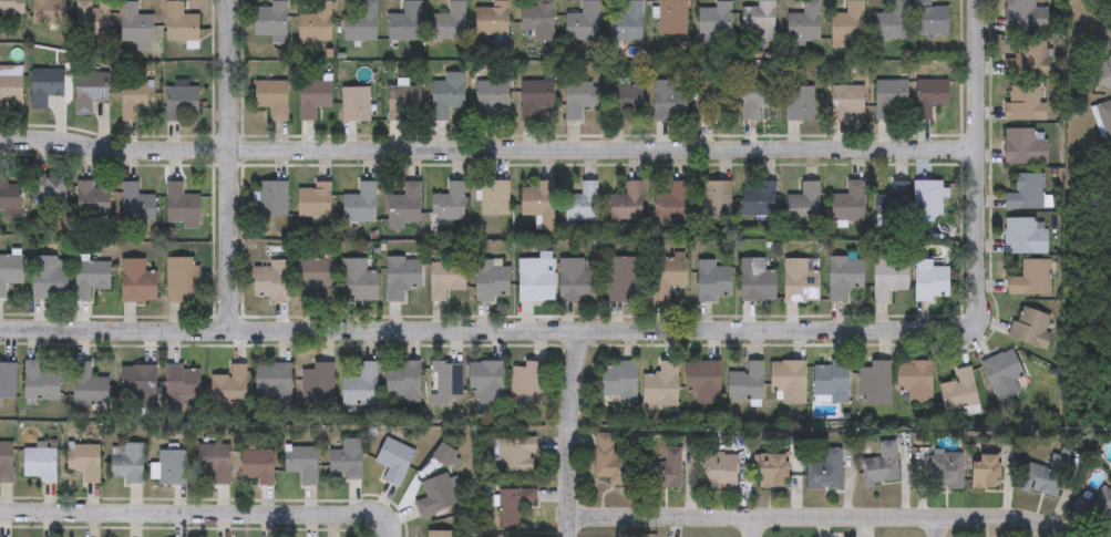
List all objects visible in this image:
building: (11, 7)
building: (48, 12)
building: (1023, 16)
building: (92, 18)
building: (269, 18)
building: (491, 18)
building: (672, 18)
building: (929, 18)
building: (538, 19)
building: (713, 19)
building: (759, 19)
building: (449, 21)
building: (892, 21)
building: (179, 22)
building: (315, 22)
building: (360, 22)
building: (403, 22)
building: (582, 22)
building: (625, 22)
building: (803, 22)
building: (847, 22)
building: (135, 24)
building: (1025, 58)
building: (1105, 73)
building: (44, 86)
building: (10, 90)
building: (90, 90)
building: (445, 94)
building: (270, 96)
building: (755, 96)
building: (930, 96)
building: (312, 97)
building: (491, 97)
building: (533, 97)
building: (577, 97)
building: (889, 97)
building: (134, 99)
building: (710, 100)
building: (667, 101)
building: (628, 102)
building: (845, 102)
building: (181, 103)
building: (402, 103)
building: (798, 103)
building: (353, 104)
building: (1021, 104)
building: (1103, 117)
building: (1022, 147)
road: (490, 154)
road: (980, 156)
road: (232, 165)
building: (49, 187)
building: (1023, 192)
building: (9, 195)
building: (92, 197)
building: (493, 197)
building: (926, 197)
building: (271, 198)
building: (714, 198)
building: (757, 198)
building: (313, 200)
building: (537, 202)
building: (669, 202)
building: (847, 202)
building: (892, 202)
building: (449, 203)
building: (580, 203)
building: (625, 203)
building: (803, 203)
building: (135, 204)
building: (359, 204)
building: (179, 206)
building: (403, 206)
building: (1022, 236)
building: (9, 271)
building: (668, 275)
building: (312, 276)
building: (844, 276)
building: (401, 277)
building: (48, 278)
building: (91, 278)
building: (536, 278)
building: (1029, 278)
building: (182, 279)
building: (445, 279)
building: (621, 279)
building: (888, 279)
building: (270, 280)
building: (492, 280)
building: (575, 280)
building: (757, 280)
building: (800, 280)
building: (136, 281)
building: (357, 281)
building: (713, 281)
building: (929, 281)
building: (1028, 327)
road: (490, 329)
building: (1000, 373)
building: (445, 380)
building: (7, 381)
building: (402, 381)
building: (486, 381)
building: (703, 381)
building: (830, 381)
building: (914, 381)
building: (39, 382)
building: (183, 382)
building: (745, 382)
building: (786, 382)
building: (526, 383)
building: (618, 383)
building: (873, 383)
building: (272, 384)
building: (316, 384)
building: (89, 385)
building: (360, 385)
building: (660, 385)
building: (228, 386)
building: (137, 389)
building: (958, 390)
road: (567, 433)
building: (444, 454)
building: (518, 455)
building: (347, 461)
building: (394, 461)
building: (84, 462)
building: (126, 462)
building: (215, 462)
building: (614, 462)
building: (6, 463)
building: (39, 464)
building: (302, 464)
building: (882, 466)
building: (258, 467)
building: (946, 469)
building: (668, 471)
building: (721, 471)
building: (774, 471)
building: (825, 472)
building: (986, 472)
building: (1045, 476)
building: (435, 496)
building: (1097, 506)
building: (516, 507)
road: (192, 509)
road: (821, 514)
road: (753, 525)
road: (938, 526)
road: (382, 531)
building: (438, 533)

